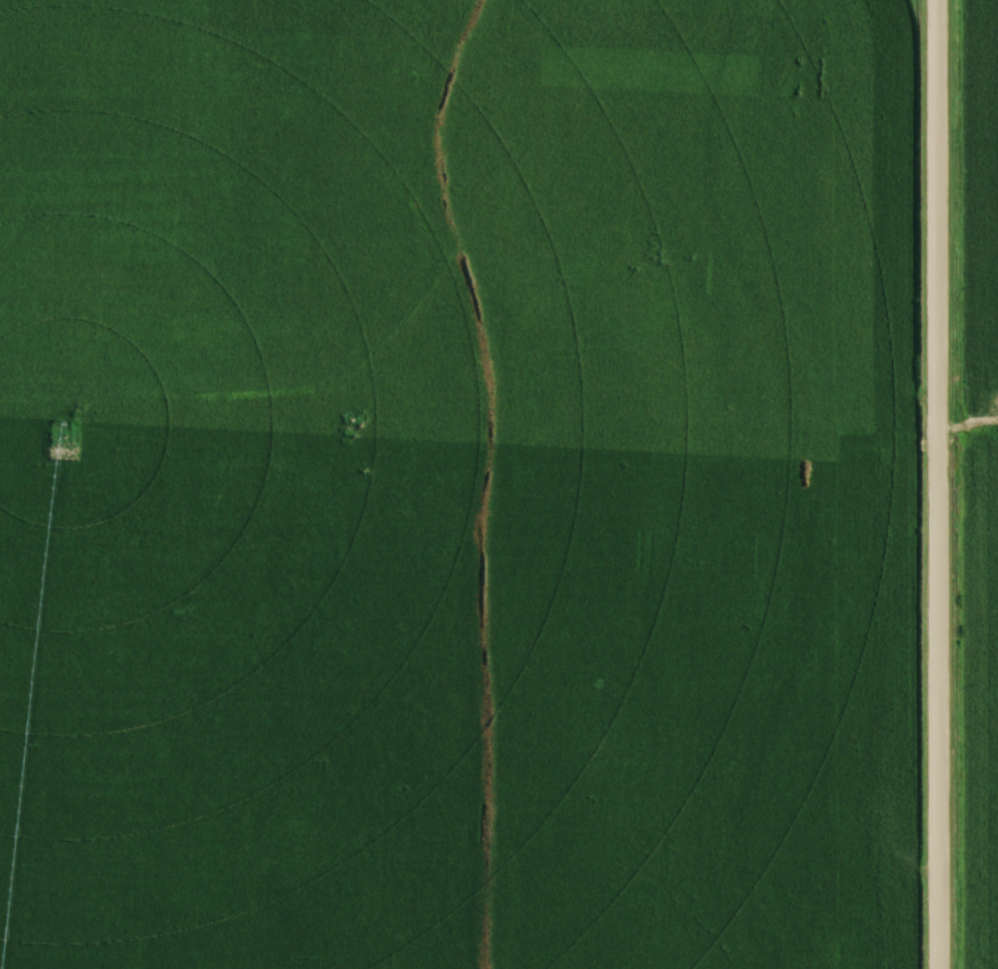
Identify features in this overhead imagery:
road: (935, 484)

